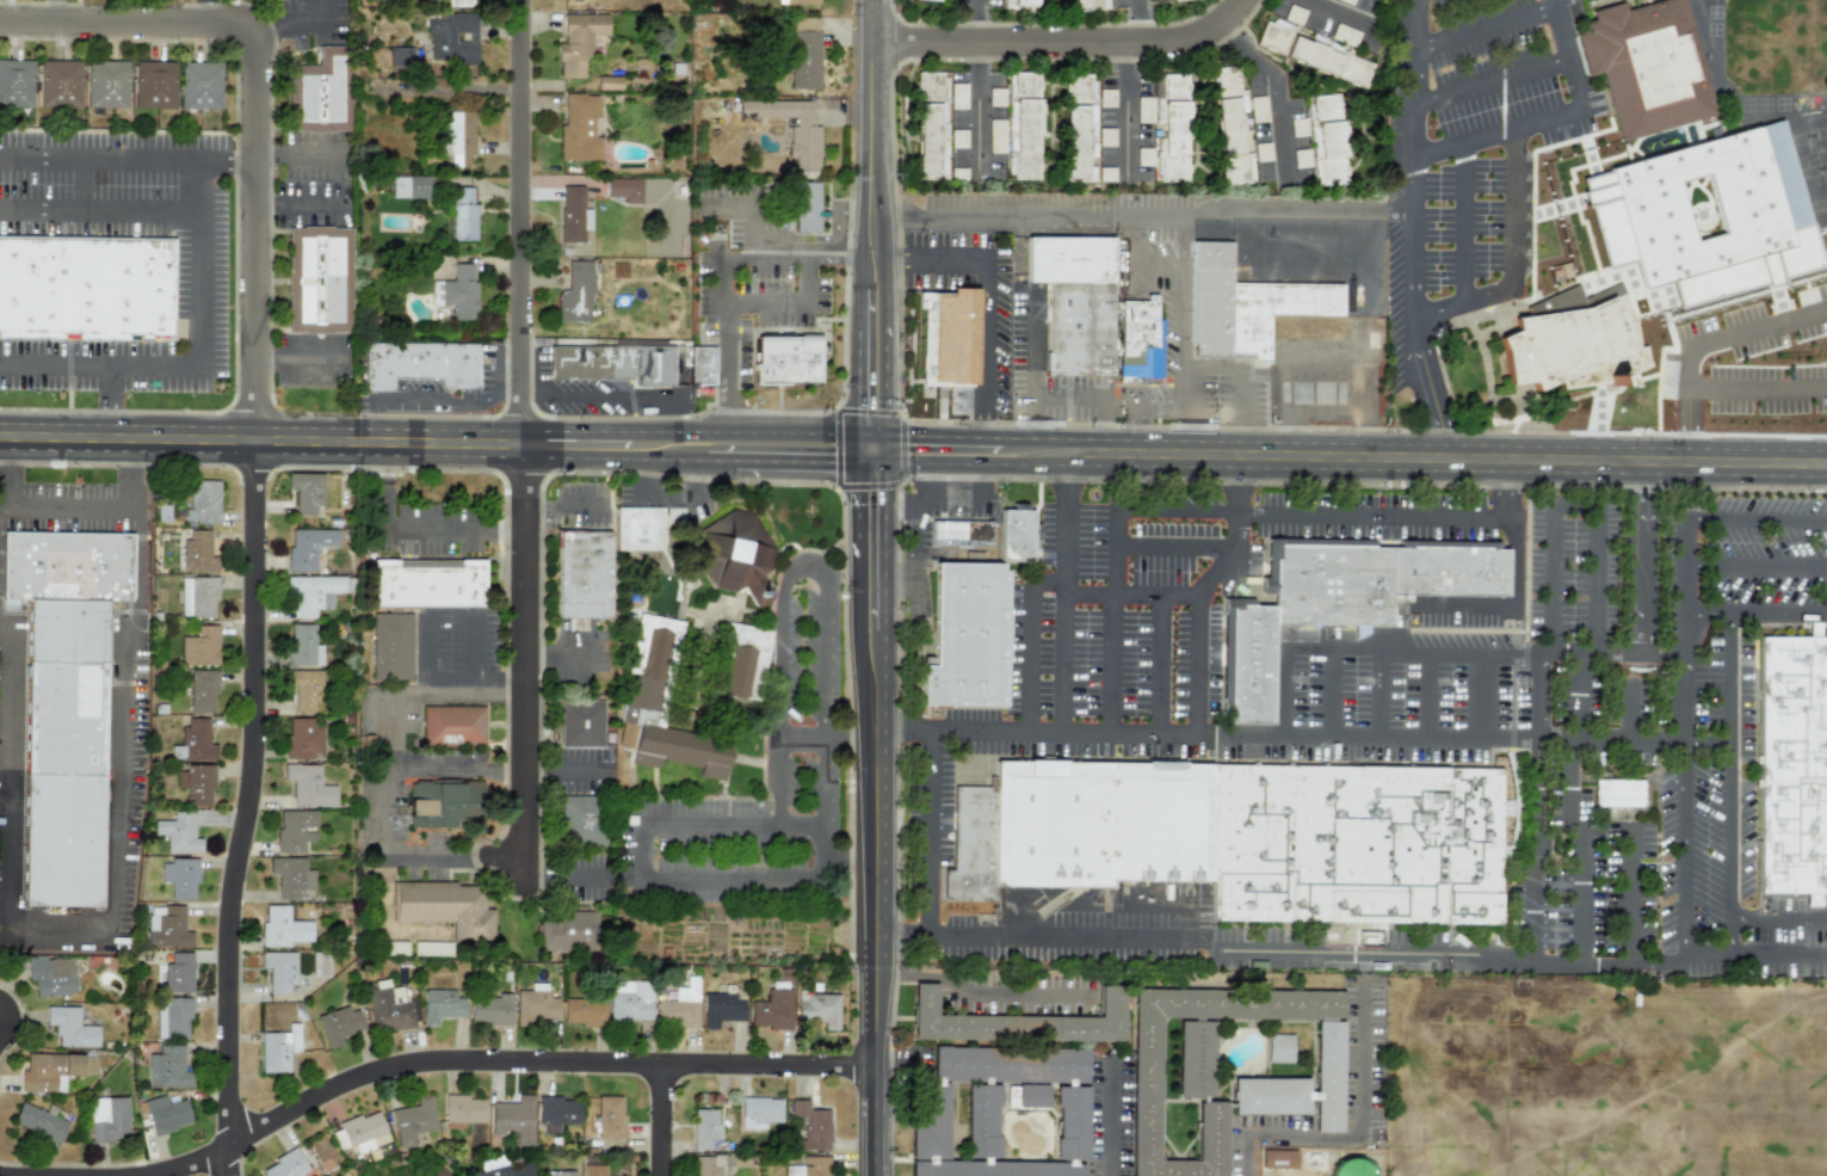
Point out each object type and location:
building: (934, 0)
building: (1169, 0)
building: (796, 1)
building: (1347, 1)
building: (1020, 4)
building: (1091, 5)
road: (50, 11)
road: (204, 11)
road: (1335, 13)
building: (1294, 14)
road: (286, 17)
building: (1746, 17)
road: (1136, 19)
road: (974, 20)
road: (1488, 24)
building: (1344, 35)
building: (451, 37)
road: (1064, 41)
building: (576, 42)
building: (1746, 49)
building: (804, 53)
building: (1313, 53)
building: (399, 56)
road: (985, 59)
building: (1646, 66)
building: (1743, 74)
road: (1418, 79)
road: (1494, 79)
building: (16, 82)
building: (58, 82)
building: (105, 84)
building: (154, 84)
road: (1276, 84)
building: (200, 85)
road: (451, 87)
building: (322, 92)
building: (957, 96)
building: (995, 97)
building: (1106, 98)
road: (979, 107)
road: (1128, 107)
building: (1257, 109)
road: (254, 110)
building: (1144, 110)
road: (1557, 121)
building: (931, 125)
building: (1023, 125)
building: (1171, 125)
building: (791, 127)
building: (1079, 127)
building: (1230, 127)
building: (1297, 127)
building: (579, 129)
building: (457, 136)
building: (995, 136)
building: (1106, 137)
building: (957, 138)
building: (1326, 138)
road: (103, 154)
road: (296, 154)
road: (229, 155)
building: (1144, 156)
building: (1301, 158)
building: (957, 173)
building: (1106, 174)
road: (560, 181)
building: (411, 186)
building: (625, 189)
road: (297, 204)
building: (807, 205)
road: (101, 208)
road: (1143, 210)
road: (838, 211)
building: (573, 214)
building: (463, 215)
building: (1705, 216)
road: (872, 217)
road: (521, 222)
road: (1507, 233)
road: (789, 245)
road: (885, 248)
road: (1462, 251)
road: (808, 253)
road: (943, 253)
road: (199, 263)
road: (747, 263)
building: (317, 278)
building: (84, 287)
road: (1181, 288)
building: (456, 290)
building: (575, 293)
building: (1074, 301)
building: (1243, 304)
road: (1413, 309)
road: (982, 338)
building: (1140, 338)
building: (946, 339)
road: (1704, 343)
building: (1573, 346)
building: (788, 358)
building: (419, 363)
building: (613, 363)
building: (700, 364)
road: (98, 368)
road: (1240, 369)
road: (1757, 387)
road: (611, 392)
road: (113, 404)
road: (1050, 404)
road: (901, 413)
road: (1086, 425)
road: (981, 430)
road: (1440, 431)
road: (574, 432)
road: (752, 432)
road: (1181, 433)
road: (938, 435)
road: (1646, 435)
road: (1049, 438)
road: (261, 441)
road: (1241, 442)
road: (875, 448)
road: (613, 458)
road: (1461, 458)
road: (382, 461)
road: (790, 461)
road: (987, 462)
road: (837, 478)
road: (1016, 478)
road: (1230, 486)
road: (1066, 490)
road: (1506, 491)
building: (305, 492)
building: (203, 501)
road: (1574, 506)
road: (73, 509)
road: (4, 517)
road: (1285, 517)
road: (1758, 517)
road: (415, 527)
road: (512, 527)
building: (638, 528)
building: (959, 534)
building: (1016, 534)
building: (308, 547)
road: (1146, 550)
building: (198, 553)
building: (735, 554)
road: (1634, 560)
road: (1758, 565)
building: (582, 574)
road: (850, 580)
road: (1595, 581)
building: (427, 583)
building: (315, 592)
building: (198, 597)
building: (1339, 599)
road: (1512, 610)
road: (1758, 611)
road: (1200, 622)
road: (1062, 626)
road: (1690, 628)
building: (967, 635)
road: (1110, 644)
road: (1161, 645)
building: (303, 646)
building: (390, 646)
road: (424, 646)
road: (474, 646)
road: (1025, 646)
road: (1416, 646)
building: (199, 647)
road: (1630, 658)
building: (745, 661)
building: (647, 671)
road: (526, 676)
road: (780, 676)
road: (475, 677)
building: (202, 690)
building: (305, 690)
road: (1286, 691)
road: (1332, 692)
road: (1382, 692)
road: (1430, 692)
road: (1481, 694)
building: (64, 703)
road: (1630, 712)
road: (826, 722)
building: (581, 724)
building: (452, 726)
road: (1538, 729)
road: (902, 732)
road: (1063, 735)
road: (1629, 737)
building: (304, 738)
road: (1378, 739)
road: (827, 740)
road: (1710, 740)
building: (193, 743)
building: (1792, 763)
road: (539, 765)
road: (579, 765)
building: (197, 784)
road: (385, 784)
road: (1732, 784)
building: (308, 786)
building: (1617, 793)
building: (443, 802)
road: (257, 808)
road: (1568, 812)
building: (581, 819)
road: (876, 819)
road: (711, 823)
building: (295, 830)
building: (178, 833)
road: (928, 835)
building: (1241, 837)
road: (643, 849)
road: (1686, 849)
road: (500, 862)
road: (850, 862)
building: (290, 876)
road: (535, 876)
road: (593, 876)
building: (179, 878)
road: (737, 880)
road: (1629, 897)
building: (445, 907)
road: (1761, 918)
road: (115, 924)
building: (166, 926)
building: (283, 928)
building: (568, 931)
road: (1035, 940)
building: (432, 948)
road: (1520, 955)
building: (320, 965)
building: (173, 971)
building: (279, 971)
building: (50, 975)
road: (980, 990)
building: (630, 1000)
building: (535, 1005)
building: (440, 1006)
building: (679, 1006)
building: (390, 1008)
building: (721, 1009)
building: (819, 1009)
building: (490, 1010)
building: (772, 1010)
building: (582, 1011)
building: (172, 1018)
building: (1018, 1021)
building: (339, 1024)
building: (70, 1028)
building: (278, 1048)
building: (1278, 1048)
building: (1193, 1058)
building: (167, 1067)
building: (54, 1070)
road: (512, 1070)
road: (1643, 1073)
park: (1605, 1076)
building: (1269, 1084)
building: (463, 1110)
building: (759, 1112)
building: (556, 1113)
building: (165, 1114)
building: (1001, 1114)
building: (609, 1116)
building: (109, 1119)
building: (513, 1119)
road: (1106, 1119)
building: (412, 1121)
building: (39, 1122)
road: (1363, 1122)
road: (666, 1125)
building: (811, 1126)
building: (704, 1128)
building: (359, 1133)
building: (285, 1165)
building: (706, 1165)
building: (810, 1166)
building: (593, 1170)
building: (510, 1171)
building: (556, 1174)

